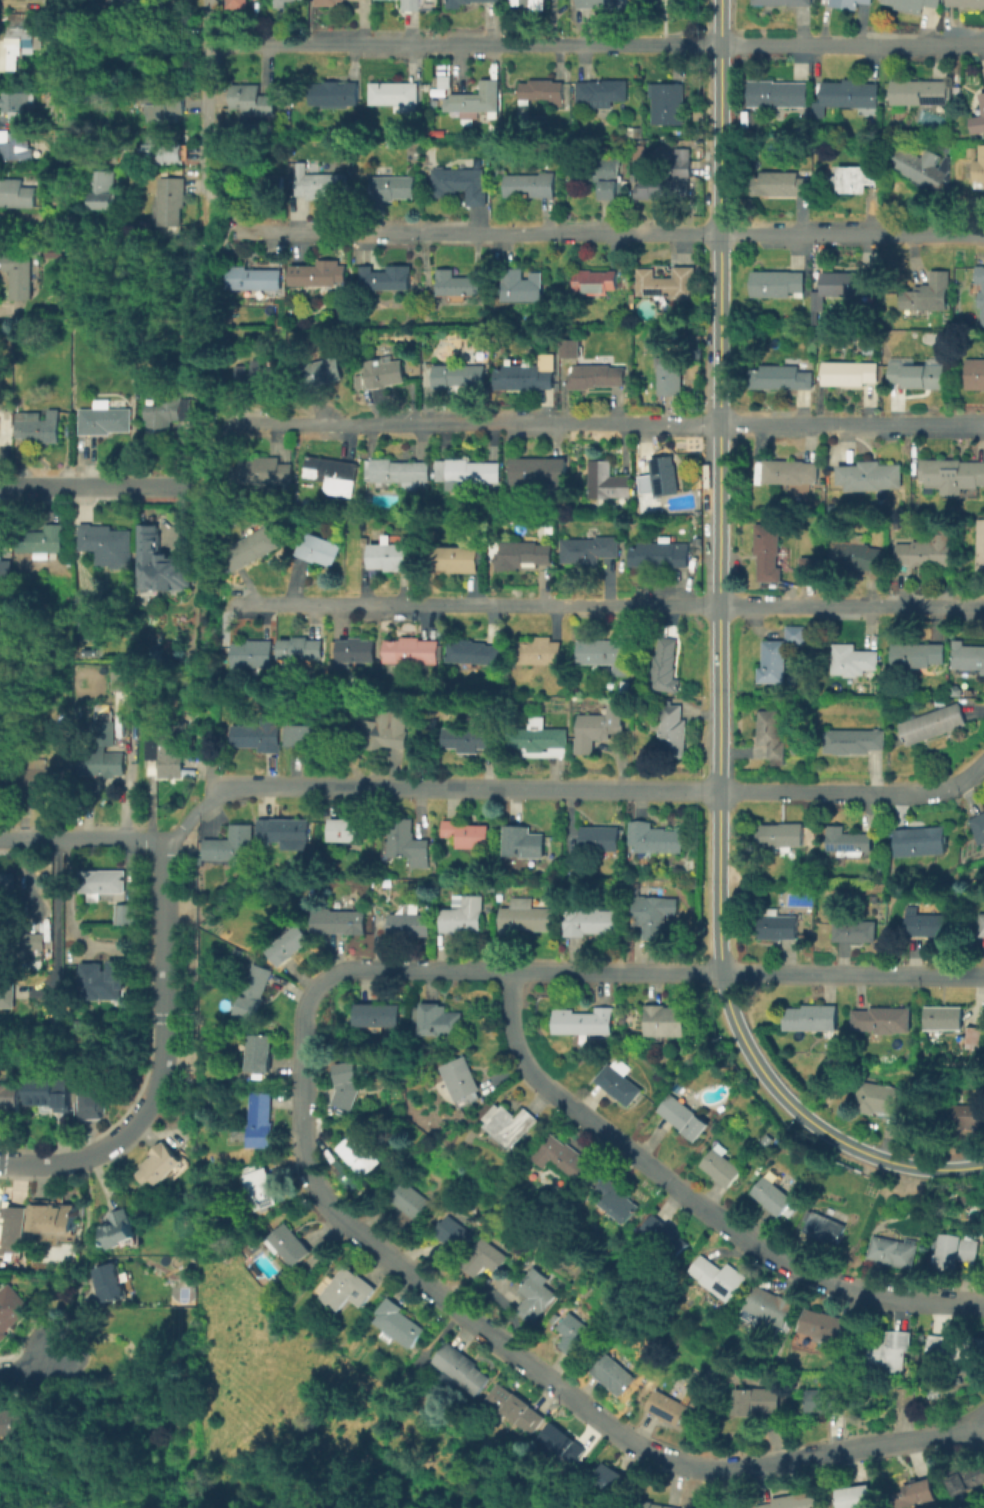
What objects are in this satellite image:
building: (285, 1)
building: (328, 2)
building: (967, 2)
building: (278, 3)
building: (652, 3)
building: (784, 3)
building: (850, 3)
building: (471, 4)
building: (530, 4)
building: (599, 4)
building: (141, 5)
building: (238, 5)
building: (912, 5)
building: (414, 6)
building: (19, 40)
road: (596, 45)
building: (919, 92)
building: (542, 94)
building: (604, 94)
building: (782, 95)
building: (334, 96)
building: (852, 96)
building: (395, 97)
building: (253, 100)
building: (983, 100)
building: (476, 102)
building: (16, 104)
building: (667, 106)
road: (208, 107)
building: (164, 109)
building: (819, 113)
building: (978, 123)
building: (15, 147)
building: (162, 148)
building: (247, 168)
building: (980, 170)
building: (921, 171)
building: (600, 177)
building: (669, 178)
building: (853, 181)
building: (271, 184)
building: (320, 184)
building: (461, 185)
building: (781, 186)
building: (393, 188)
building: (530, 188)
building: (103, 189)
building: (16, 195)
building: (65, 200)
building: (172, 201)
road: (601, 233)
building: (56, 254)
building: (20, 274)
building: (321, 276)
building: (980, 276)
building: (256, 281)
building: (388, 281)
building: (669, 282)
building: (597, 284)
building: (851, 284)
building: (777, 285)
building: (458, 287)
building: (524, 288)
building: (931, 293)
building: (982, 300)
building: (568, 347)
building: (320, 374)
building: (849, 374)
building: (241, 375)
building: (381, 375)
building: (457, 375)
building: (264, 376)
building: (924, 376)
building: (976, 376)
building: (526, 377)
building: (596, 377)
building: (672, 377)
building: (780, 380)
building: (167, 413)
building: (103, 420)
road: (605, 424)
building: (38, 426)
building: (645, 464)
building: (541, 469)
building: (263, 472)
building: (473, 472)
building: (791, 472)
building: (400, 474)
building: (333, 475)
building: (867, 475)
building: (954, 476)
building: (666, 477)
building: (609, 483)
road: (90, 484)
building: (647, 484)
road: (719, 487)
building: (41, 541)
building: (106, 546)
building: (254, 547)
building: (980, 549)
building: (319, 552)
building: (588, 553)
building: (928, 553)
building: (769, 554)
building: (391, 555)
building: (856, 555)
building: (522, 556)
building: (660, 557)
building: (458, 559)
building: (161, 565)
building: (806, 565)
building: (5, 570)
road: (609, 605)
building: (92, 628)
building: (0, 631)
building: (302, 650)
building: (541, 651)
building: (415, 652)
building: (352, 653)
building: (252, 654)
building: (780, 654)
building: (473, 655)
building: (606, 655)
building: (918, 656)
building: (970, 659)
building: (856, 662)
building: (665, 667)
building: (119, 680)
building: (1, 713)
building: (360, 726)
building: (104, 727)
building: (935, 727)
building: (387, 728)
building: (598, 728)
building: (309, 736)
building: (673, 736)
building: (258, 738)
building: (774, 738)
building: (470, 739)
building: (542, 741)
building: (854, 743)
building: (170, 754)
building: (103, 764)
building: (44, 778)
road: (432, 787)
road: (856, 794)
building: (979, 829)
building: (345, 832)
building: (286, 834)
building: (467, 835)
building: (782, 837)
road: (81, 838)
building: (600, 839)
building: (656, 840)
building: (849, 841)
building: (524, 843)
building: (922, 843)
building: (406, 844)
building: (230, 846)
building: (102, 884)
building: (6, 888)
road: (65, 898)
building: (654, 915)
building: (126, 916)
building: (464, 916)
road: (56, 917)
building: (526, 917)
building: (341, 923)
building: (590, 923)
building: (411, 924)
building: (926, 925)
building: (981, 925)
building: (780, 929)
building: (855, 930)
building: (38, 942)
building: (291, 948)
road: (163, 959)
road: (657, 973)
building: (108, 981)
building: (255, 994)
building: (8, 995)
building: (379, 1017)
building: (813, 1019)
building: (945, 1020)
building: (438, 1021)
building: (883, 1022)
building: (584, 1023)
building: (668, 1023)
building: (977, 1040)
building: (260, 1055)
building: (464, 1082)
building: (348, 1085)
building: (619, 1086)
building: (50, 1096)
building: (98, 1098)
building: (11, 1099)
building: (880, 1099)
building: (964, 1118)
building: (684, 1120)
building: (261, 1123)
building: (512, 1123)
road: (813, 1124)
road: (98, 1152)
building: (361, 1155)
building: (562, 1158)
building: (161, 1167)
building: (725, 1168)
building: (351, 1178)
building: (268, 1190)
building: (772, 1197)
building: (409, 1202)
building: (619, 1202)
road: (696, 1204)
building: (56, 1220)
road: (86, 1225)
building: (825, 1229)
building: (14, 1231)
building: (121, 1233)
building: (666, 1235)
building: (452, 1241)
building: (289, 1247)
building: (894, 1253)
building: (956, 1253)
building: (486, 1259)
building: (719, 1277)
building: (111, 1284)
building: (346, 1291)
building: (537, 1294)
park: (181, 1295)
building: (770, 1308)
building: (10, 1310)
building: (399, 1325)
building: (828, 1327)
building: (578, 1337)
building: (955, 1351)
building: (894, 1353)
road: (525, 1359)
road: (29, 1368)
building: (464, 1371)
building: (616, 1376)
building: (902, 1396)
building: (756, 1401)
building: (827, 1402)
building: (518, 1409)
building: (669, 1409)
building: (15, 1422)
building: (564, 1444)
building: (968, 1478)
building: (610, 1480)
building: (913, 1494)
building: (856, 1498)
building: (791, 1501)
building: (649, 1506)

